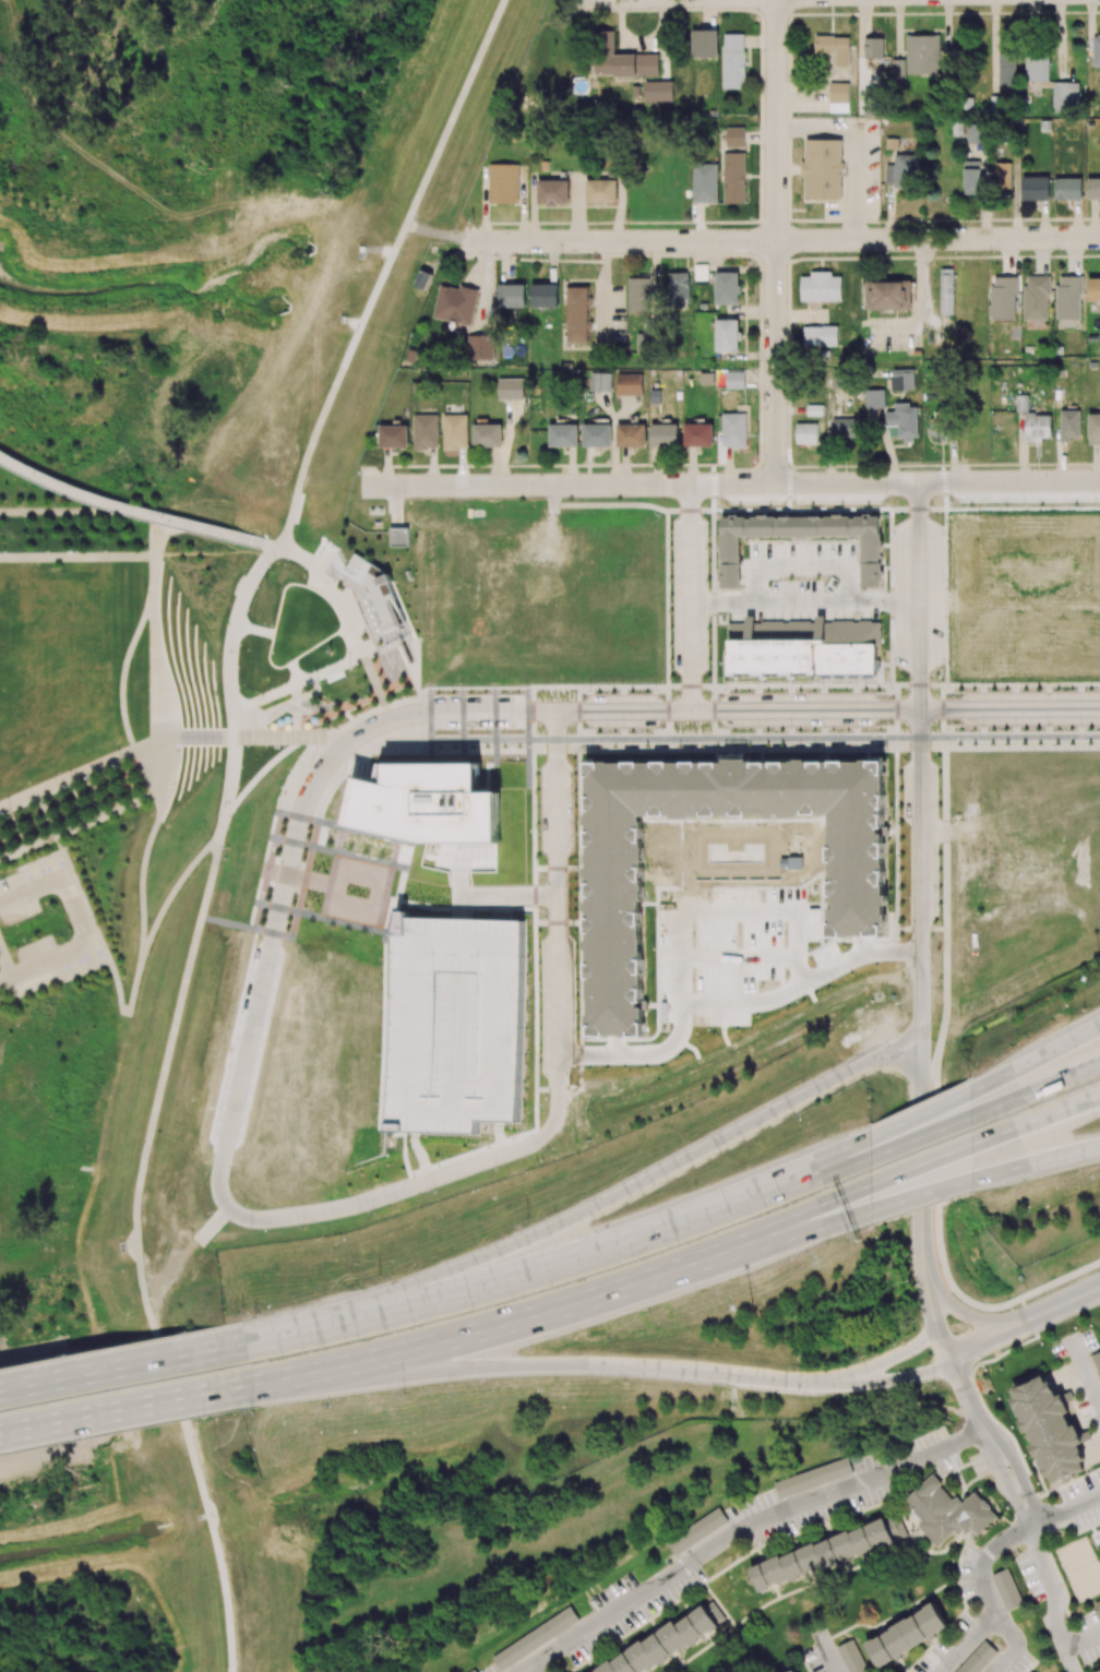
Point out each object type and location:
road: (214, 9)
road: (225, 9)
building: (621, 59)
road: (289, 89)
building: (659, 91)
road: (214, 105)
road: (292, 130)
road: (232, 134)
road: (73, 146)
road: (857, 148)
building: (503, 183)
building: (553, 192)
building: (601, 192)
road: (190, 224)
road: (434, 235)
road: (782, 240)
road: (777, 241)
road: (225, 256)
road: (326, 270)
road: (384, 272)
road: (243, 274)
building: (641, 295)
building: (512, 296)
building: (545, 296)
road: (921, 296)
building: (455, 304)
building: (578, 314)
building: (646, 339)
building: (481, 347)
road: (914, 363)
building: (601, 382)
building: (630, 384)
building: (511, 389)
building: (426, 431)
building: (454, 432)
building: (393, 435)
building: (487, 435)
building: (563, 435)
building: (597, 435)
building: (631, 435)
building: (665, 435)
road: (1007, 480)
road: (639, 483)
road: (128, 507)
street lamp: (268, 535)
building: (398, 537)
road: (268, 545)
road: (76, 558)
street lamp: (333, 582)
building: (375, 592)
road: (685, 595)
road: (801, 600)
street lamp: (368, 629)
road: (253, 630)
road: (360, 650)
street lamp: (350, 669)
road: (294, 671)
street lamp: (318, 682)
road: (1014, 684)
road: (691, 685)
road: (804, 685)
road: (917, 685)
road: (942, 691)
street lamp: (462, 692)
street lamp: (430, 693)
road: (397, 703)
road: (761, 706)
road: (942, 709)
road: (916, 717)
road: (1016, 730)
street lamp: (430, 731)
street lamp: (463, 731)
park: (162, 733)
road: (279, 737)
road: (764, 738)
street lamp: (318, 751)
street lamp: (119, 766)
road: (88, 767)
street lamp: (71, 787)
building: (429, 804)
street lamp: (136, 808)
street lamp: (10, 813)
street lamp: (280, 813)
street lamp: (319, 822)
street lamp: (88, 828)
street lamp: (27, 856)
street lamp: (303, 865)
street lamp: (267, 871)
building: (856, 875)
street lamp: (86, 895)
parking lot: (14, 900)
road: (141, 910)
road: (732, 912)
road: (81, 928)
street lamp: (254, 928)
street lamp: (287, 931)
street lamp: (29, 937)
street lamp: (106, 942)
parking lot: (48, 967)
road: (722, 1004)
building: (455, 1024)
parking garage: (455, 1024)
road: (937, 1089)
road: (155, 1106)
road: (985, 1107)
road: (715, 1157)
road: (319, 1213)
street lamp: (528, 1218)
road: (588, 1254)
road: (1014, 1255)
street lamp: (379, 1276)
street lamp: (750, 1305)
street lamp: (242, 1312)
road: (510, 1323)
road: (1024, 1323)
street lamp: (186, 1329)
road: (272, 1337)
road: (611, 1353)
road: (123, 1366)
road: (1087, 1374)
road: (272, 1380)
street lamp: (935, 1386)
street lamp: (404, 1393)
road: (128, 1408)
street lamp: (253, 1412)
road: (976, 1414)
street lamp: (205, 1419)
road: (942, 1452)
building: (950, 1512)
road: (1067, 1512)
building: (696, 1531)
road: (705, 1551)
road: (1038, 1557)
road: (988, 1558)
park: (1079, 1568)
building: (535, 1638)
road: (969, 1640)
building: (667, 1641)
road: (1083, 1643)
road: (1016, 1644)
road: (828, 1652)
road: (1069, 1661)
road: (529, 1671)
road: (531, 1671)

